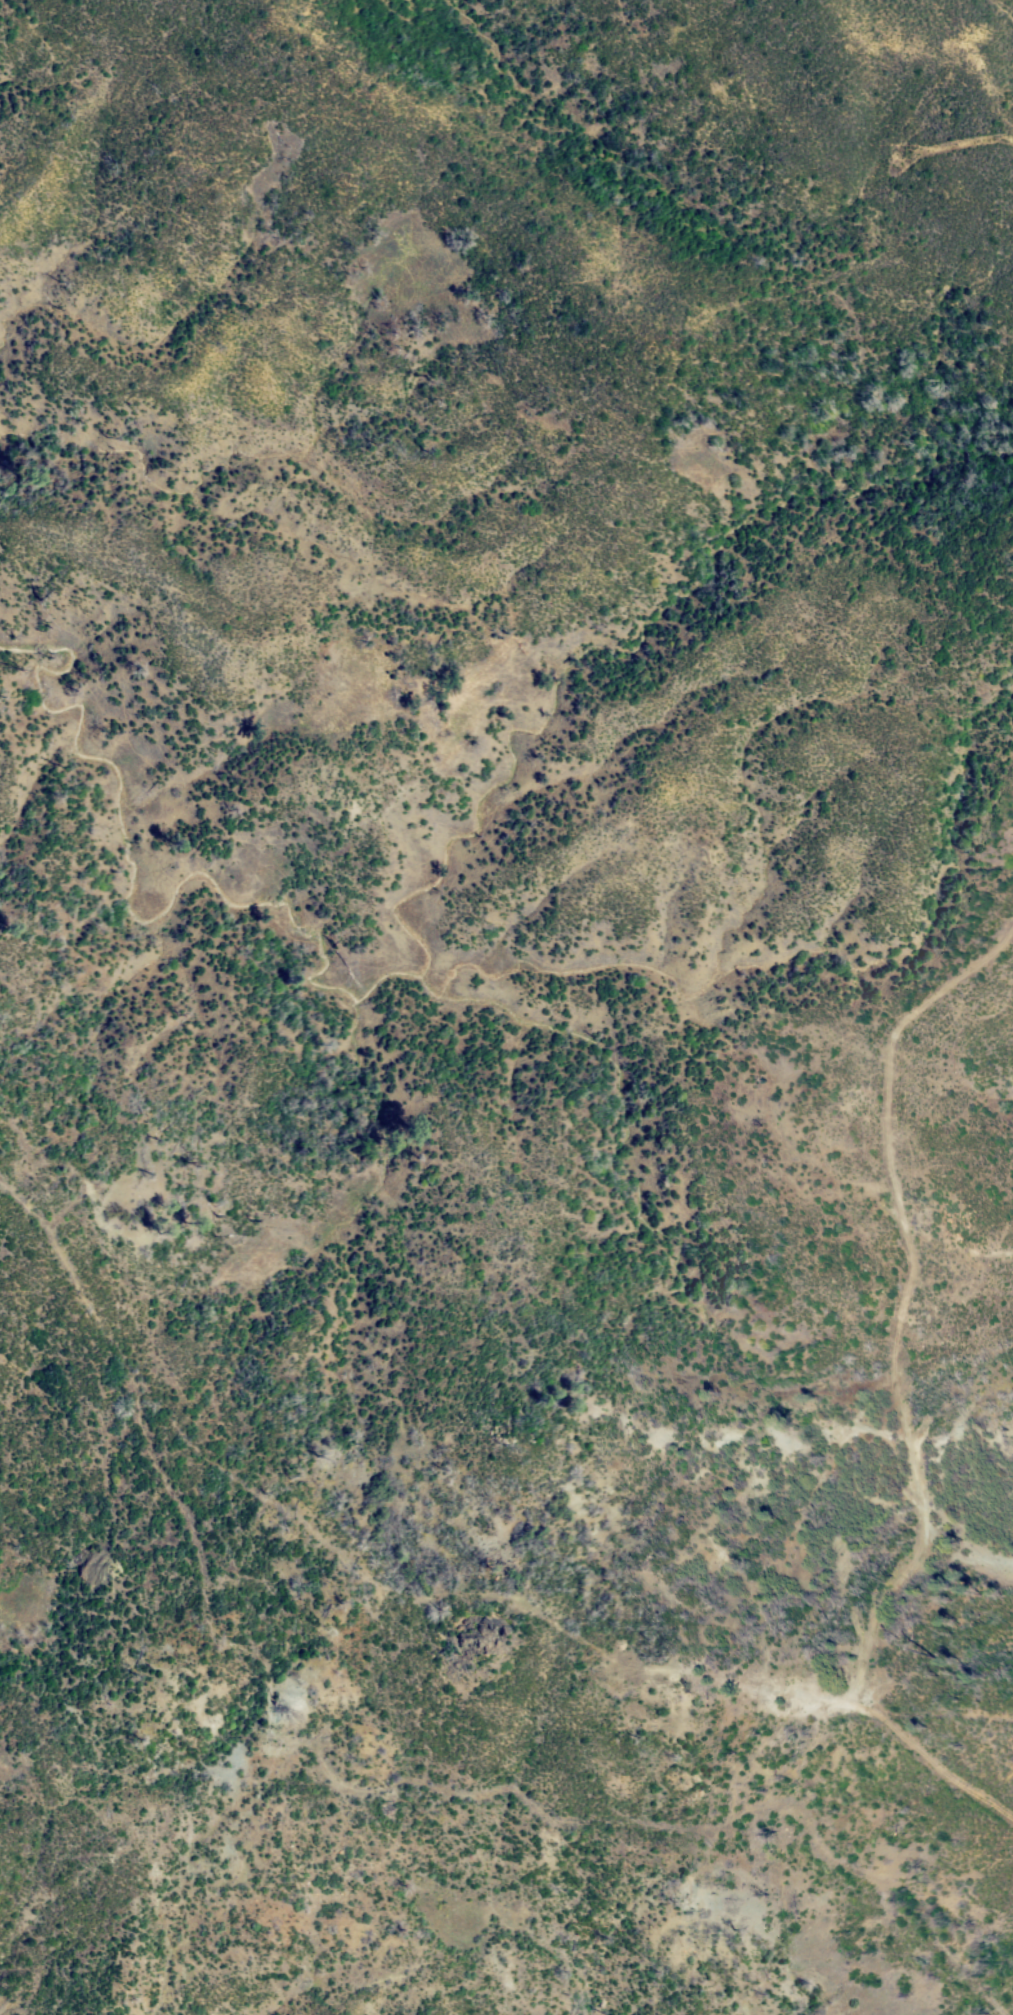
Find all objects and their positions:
road: (1007, 4)
road: (902, 1391)
road: (941, 1711)
road: (359, 1790)

